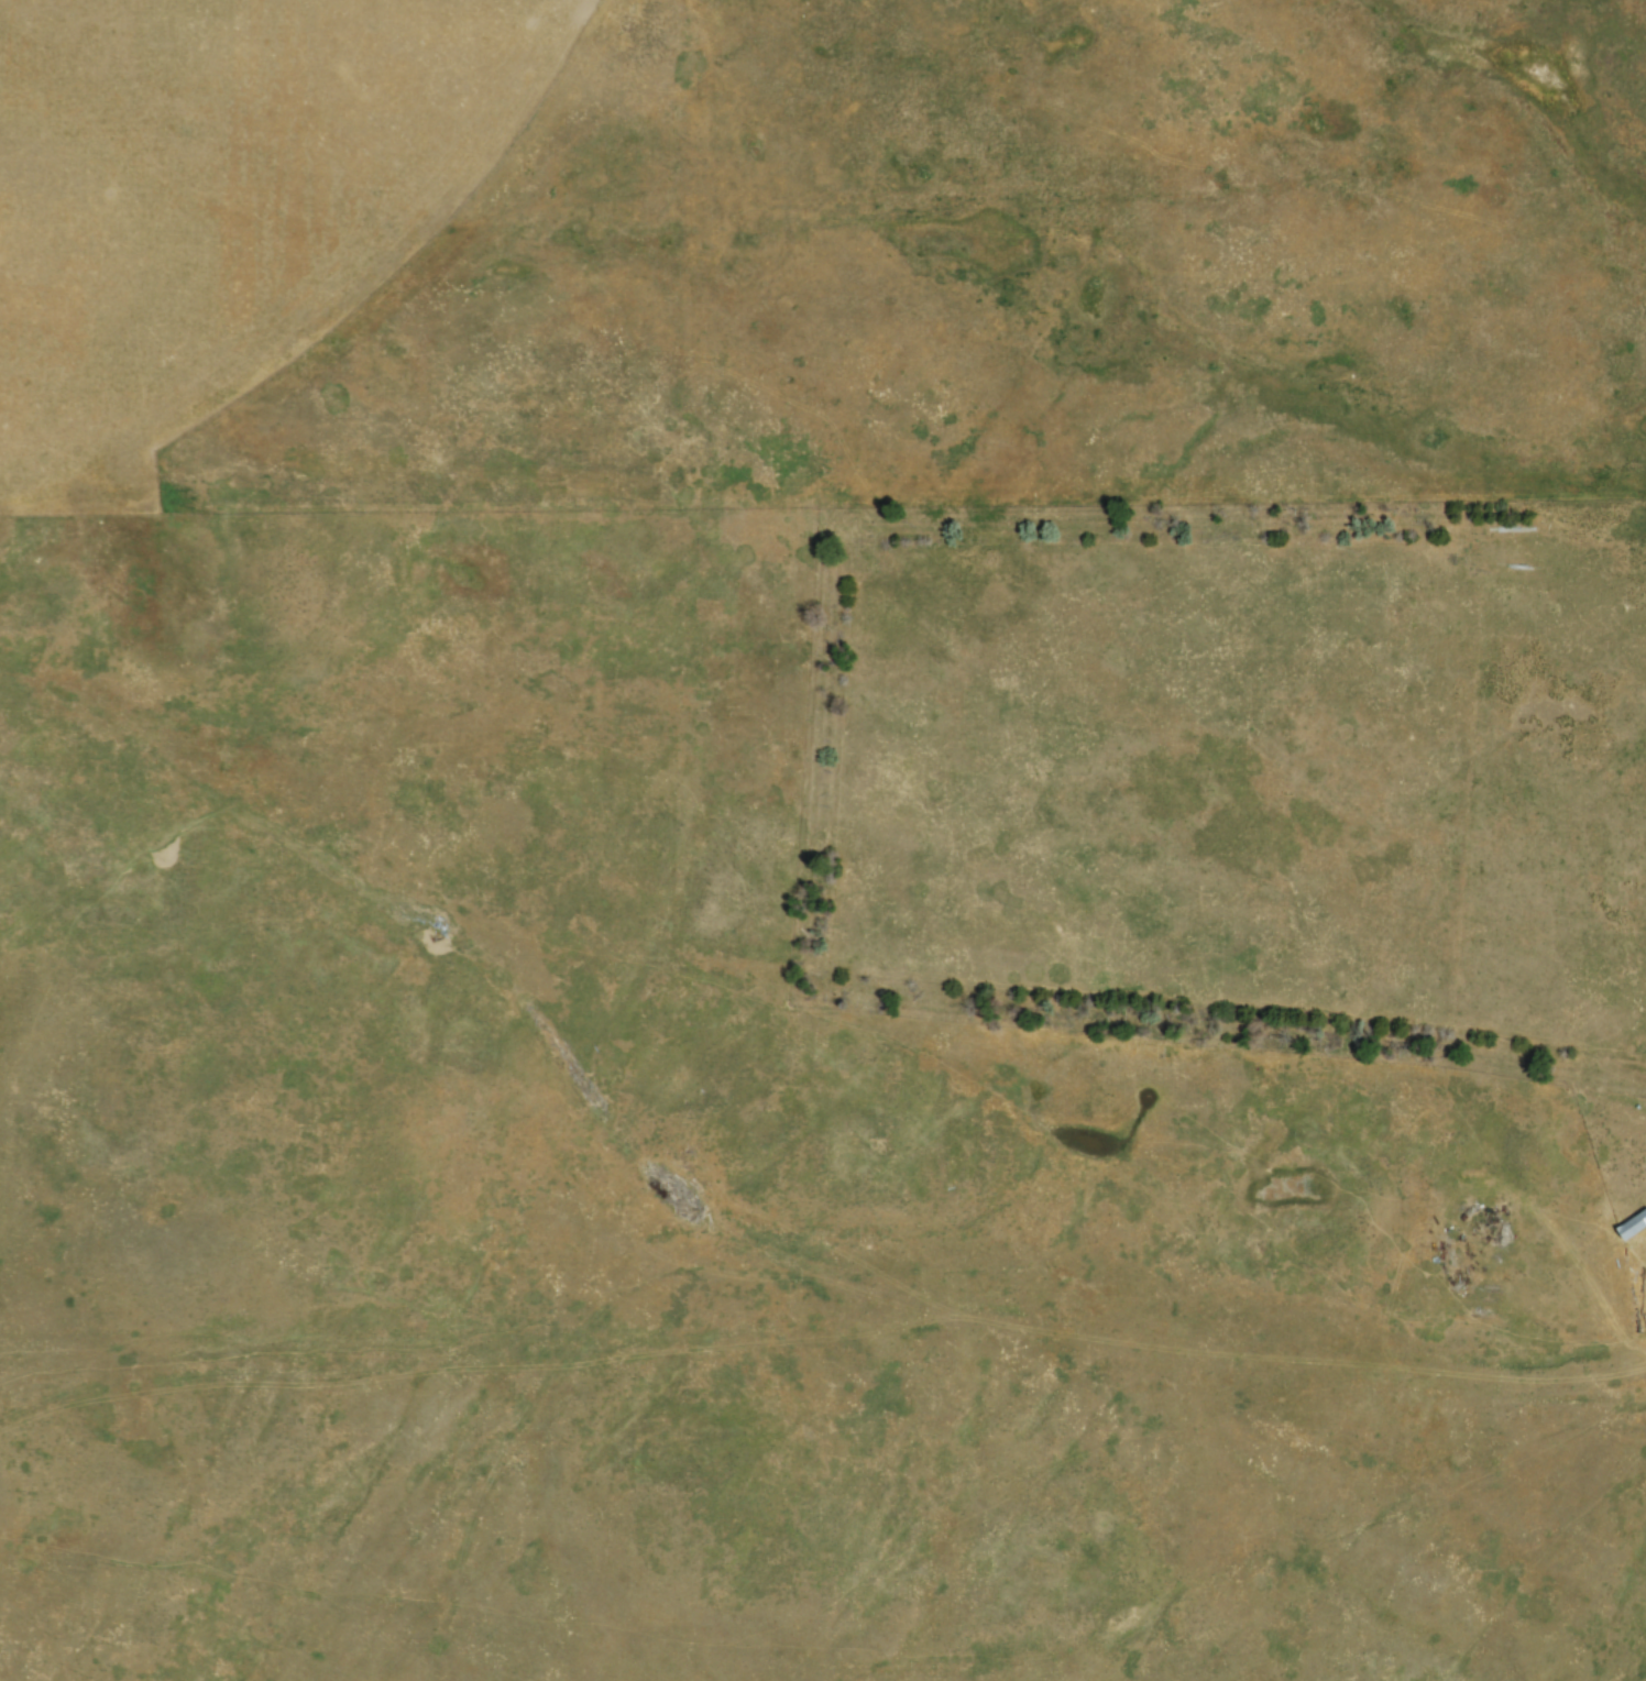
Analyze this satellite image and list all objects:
building: (1631, 1221)

